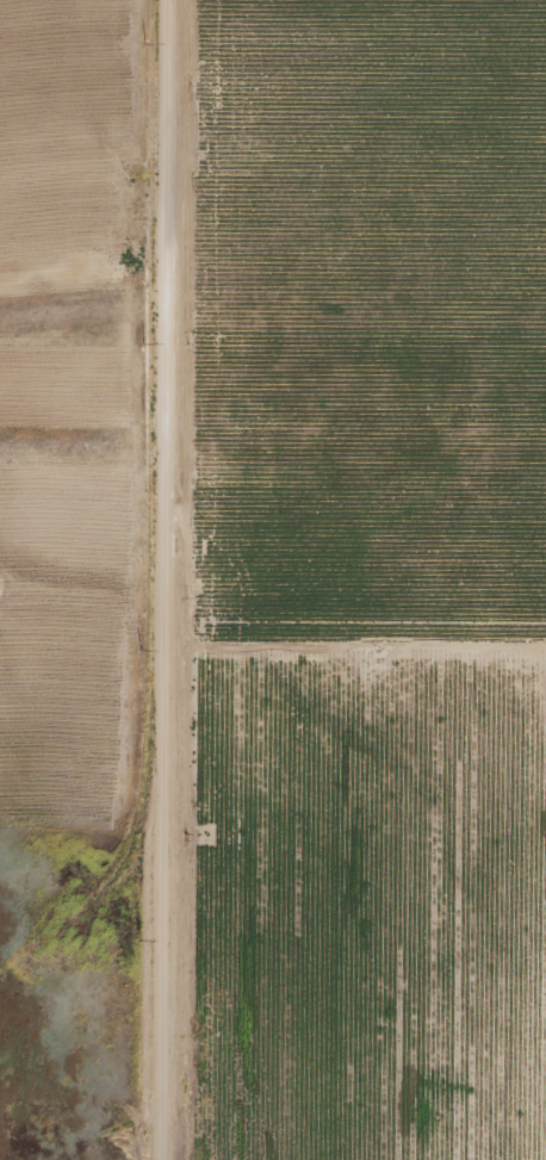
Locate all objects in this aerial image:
road: (159, 579)

